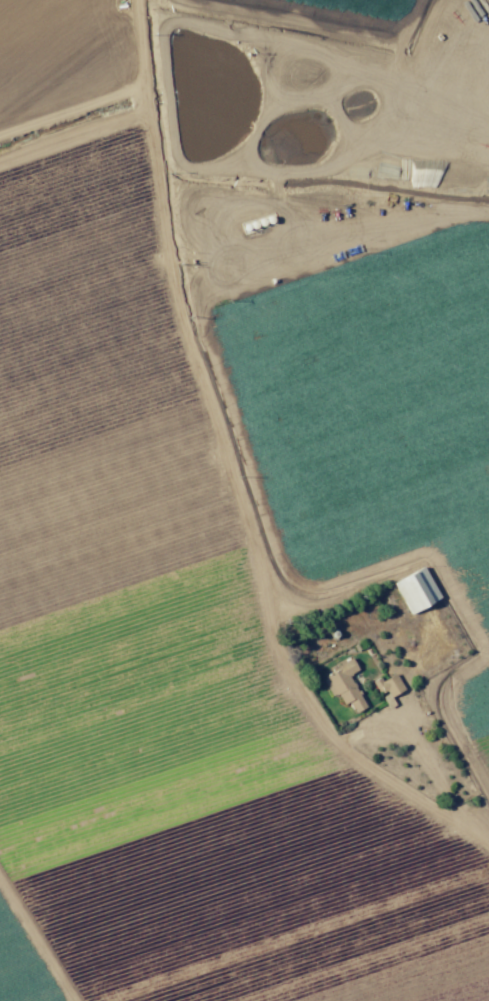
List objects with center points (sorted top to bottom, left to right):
road: (231, 466)
crop: (230, 581)
building: (417, 591)
building: (345, 686)

